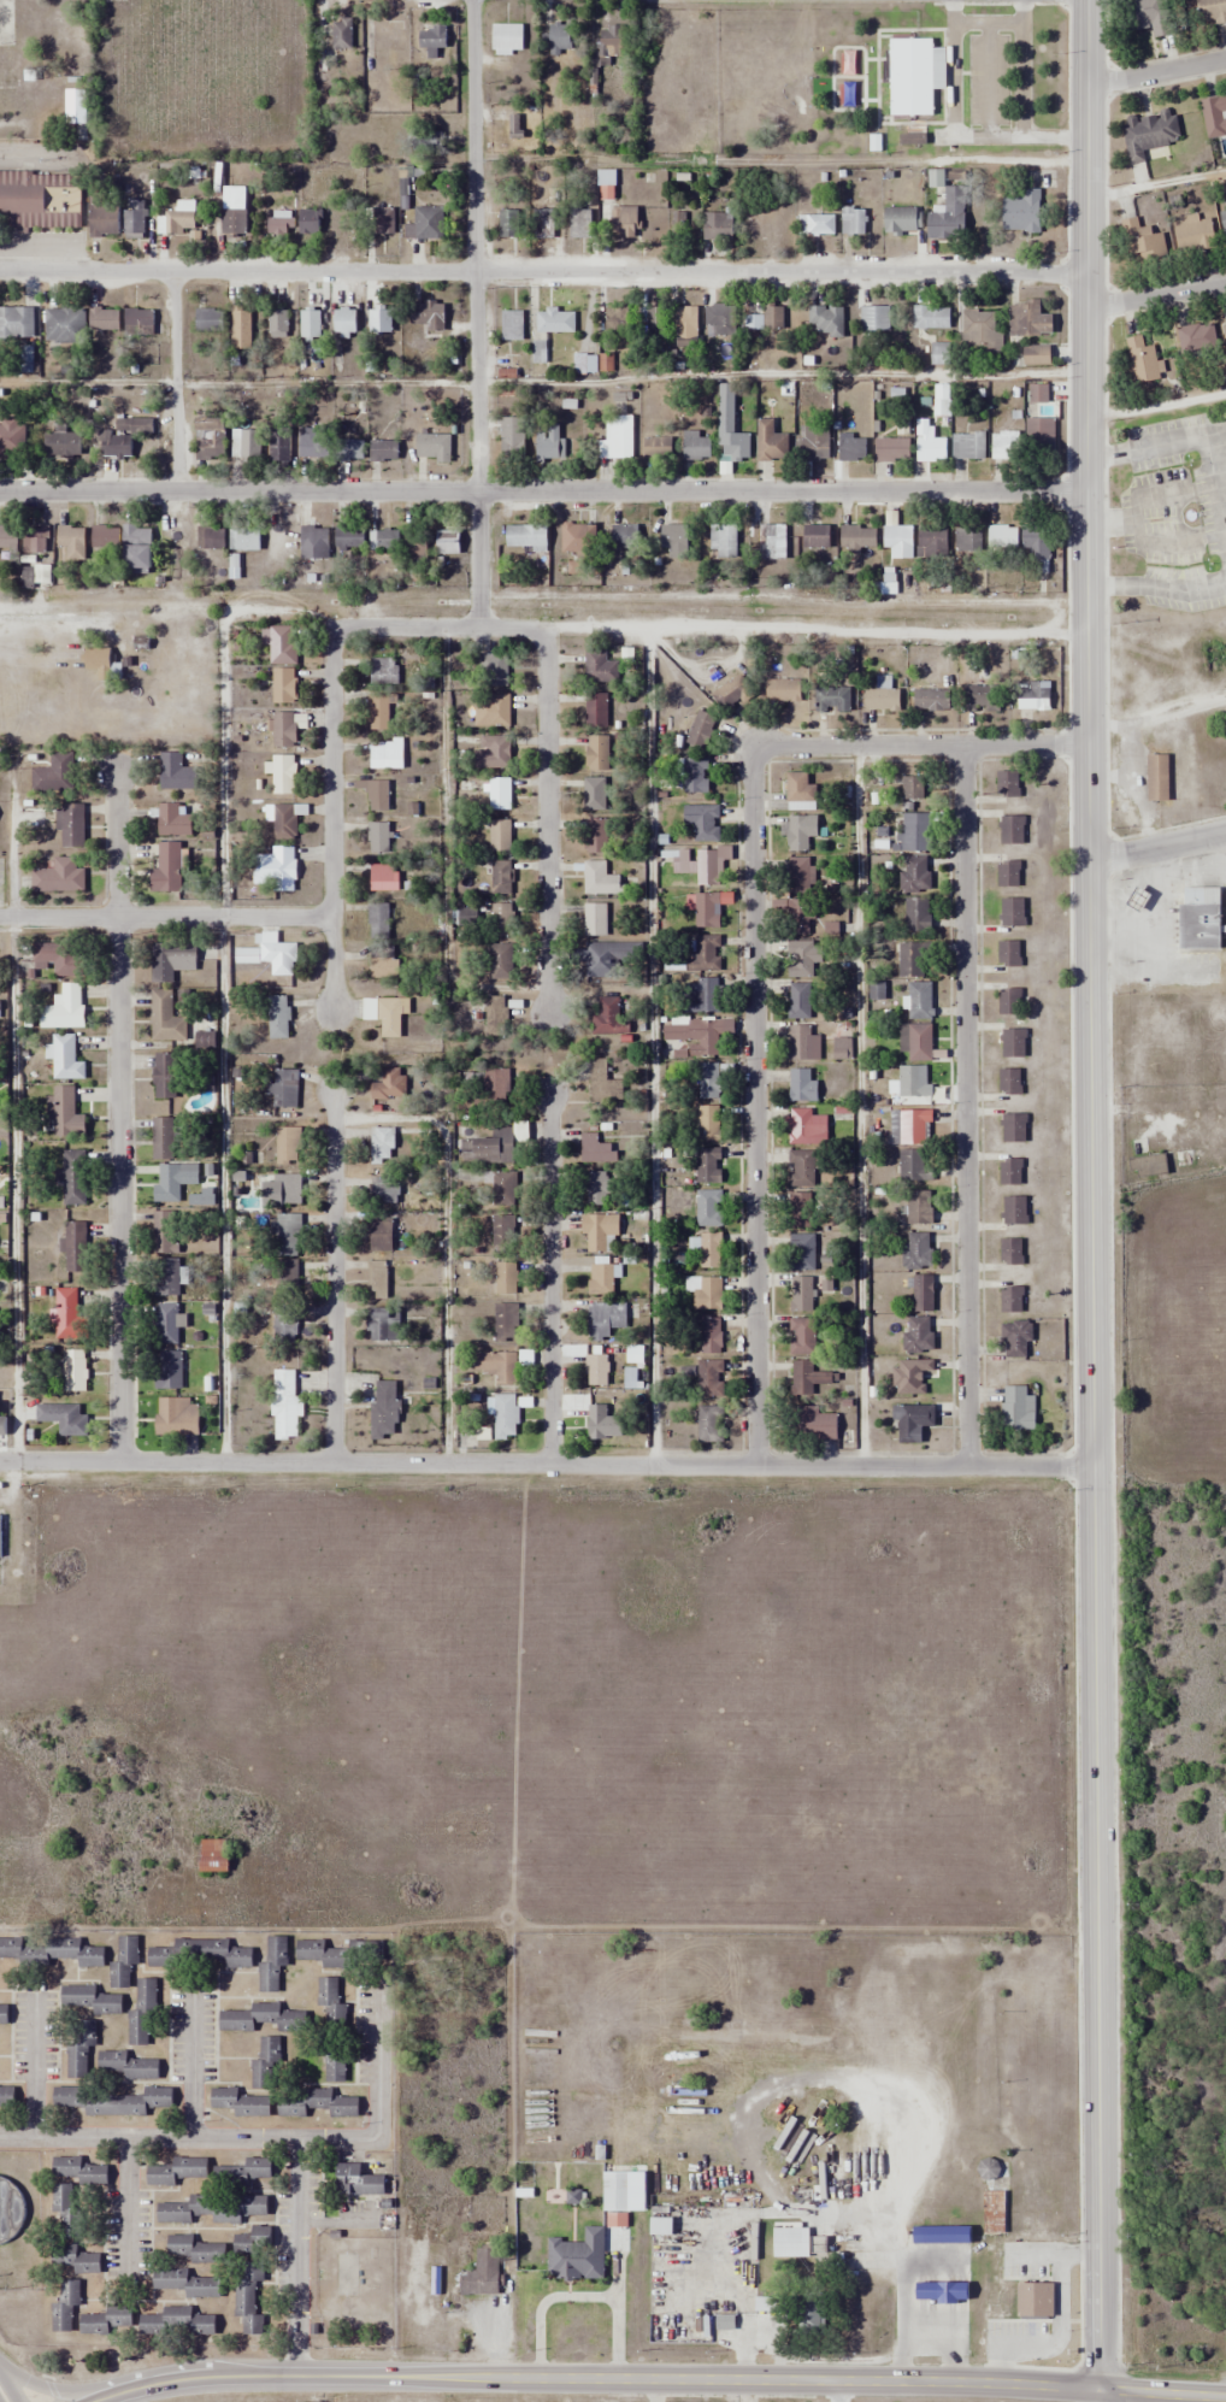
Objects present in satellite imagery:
building: (1210, 12)
building: (1150, 16)
building: (341, 34)
building: (432, 37)
building: (560, 39)
building: (506, 40)
building: (612, 42)
building: (7, 69)
road: (1156, 72)
building: (910, 77)
building: (1225, 95)
building: (1219, 124)
building: (515, 128)
building: (1149, 134)
building: (40, 199)
building: (232, 211)
building: (1021, 211)
building: (102, 217)
building: (948, 217)
building: (134, 219)
building: (177, 219)
building: (1222, 219)
building: (310, 220)
building: (851, 220)
building: (383, 222)
building: (624, 222)
building: (281, 223)
building: (425, 223)
building: (543, 223)
building: (579, 223)
building: (508, 224)
building: (753, 224)
building: (678, 225)
building: (817, 225)
building: (717, 226)
building: (1193, 234)
building: (1142, 242)
road: (542, 271)
road: (1155, 295)
road: (475, 313)
building: (428, 316)
building: (766, 318)
building: (931, 318)
building: (104, 319)
building: (208, 319)
building: (379, 319)
building: (873, 319)
building: (615, 320)
building: (719, 320)
building: (826, 320)
building: (1028, 320)
building: (344, 322)
building: (554, 322)
building: (16, 323)
building: (138, 323)
building: (277, 323)
building: (650, 324)
building: (64, 325)
building: (511, 325)
building: (685, 326)
building: (241, 328)
building: (310, 330)
building: (978, 332)
building: (1224, 332)
building: (1196, 338)
building: (538, 352)
building: (1036, 355)
building: (1143, 361)
building: (606, 363)
building: (584, 364)
road: (176, 382)
building: (1038, 394)
building: (730, 428)
building: (210, 438)
building: (617, 438)
road: (1179, 438)
building: (11, 440)
building: (512, 440)
building: (1039, 440)
building: (61, 443)
building: (311, 443)
building: (548, 443)
building: (813, 443)
building: (244, 445)
building: (114, 446)
building: (772, 446)
building: (967, 446)
building: (1004, 446)
building: (696, 447)
building: (278, 448)
building: (434, 448)
building: (350, 449)
building: (383, 451)
building: (656, 451)
building: (851, 451)
building: (892, 451)
building: (930, 451)
road: (541, 493)
road: (1165, 494)
road: (1155, 535)
building: (525, 536)
building: (625, 536)
building: (71, 537)
building: (105, 537)
building: (349, 537)
building: (815, 537)
building: (897, 537)
building: (1002, 537)
building: (8, 538)
building: (210, 538)
building: (578, 538)
building: (857, 538)
building: (35, 540)
building: (244, 540)
building: (384, 540)
building: (676, 540)
building: (967, 540)
building: (723, 541)
building: (448, 542)
building: (772, 542)
building: (314, 543)
building: (932, 543)
building: (414, 546)
building: (1037, 547)
building: (136, 549)
road: (1155, 588)
road: (436, 626)
building: (279, 643)
building: (99, 661)
building: (600, 667)
building: (493, 670)
building: (383, 671)
building: (283, 685)
building: (783, 689)
building: (732, 693)
building: (1032, 695)
building: (832, 697)
building: (882, 697)
building: (983, 697)
building: (931, 699)
building: (499, 710)
building: (595, 710)
building: (379, 712)
building: (283, 729)
building: (701, 729)
building: (493, 752)
building: (385, 753)
building: (596, 753)
building: (176, 773)
building: (281, 773)
building: (54, 775)
building: (695, 776)
building: (1157, 777)
building: (1007, 783)
building: (912, 788)
building: (800, 791)
building: (499, 793)
building: (375, 794)
building: (594, 795)
building: (172, 820)
road: (547, 820)
building: (283, 822)
building: (702, 822)
road: (330, 823)
building: (70, 825)
building: (1012, 830)
building: (915, 831)
building: (801, 834)
building: (596, 835)
building: (500, 836)
building: (377, 838)
road: (1156, 846)
building: (683, 855)
building: (707, 867)
building: (166, 869)
building: (275, 869)
building: (915, 873)
building: (1008, 873)
building: (800, 875)
building: (58, 876)
building: (383, 878)
building: (500, 878)
building: (599, 879)
building: (707, 911)
building: (1012, 912)
building: (916, 914)
road: (165, 916)
building: (800, 917)
building: (1198, 918)
building: (501, 919)
building: (594, 919)
building: (379, 922)
road: (755, 940)
building: (1009, 953)
building: (58, 958)
building: (279, 958)
building: (803, 958)
building: (605, 959)
building: (914, 959)
building: (171, 960)
building: (500, 962)
building: (383, 964)
road: (223, 981)
building: (702, 995)
building: (919, 1000)
building: (800, 1001)
building: (1009, 1001)
building: (64, 1008)
building: (390, 1015)
building: (495, 1015)
building: (609, 1015)
building: (277, 1017)
building: (165, 1018)
building: (695, 1035)
building: (204, 1041)
building: (915, 1041)
building: (1013, 1042)
building: (800, 1043)
building: (65, 1058)
building: (164, 1075)
building: (709, 1081)
building: (914, 1081)
building: (1009, 1082)
building: (603, 1084)
building: (802, 1085)
building: (284, 1088)
building: (493, 1088)
building: (388, 1091)
road: (967, 1105)
building: (64, 1113)
road: (117, 1114)
road: (12, 1119)
building: (708, 1123)
building: (912, 1125)
building: (806, 1128)
building: (1013, 1128)
building: (163, 1138)
building: (382, 1144)
building: (288, 1146)
building: (489, 1146)
building: (596, 1149)
building: (708, 1165)
building: (913, 1166)
building: (801, 1168)
building: (1009, 1171)
building: (72, 1177)
building: (172, 1181)
building: (501, 1187)
building: (599, 1188)
building: (288, 1189)
building: (384, 1190)
road: (1090, 1194)
building: (919, 1207)
building: (708, 1208)
building: (800, 1209)
building: (1014, 1211)
building: (597, 1231)
building: (164, 1232)
building: (379, 1234)
building: (502, 1234)
building: (284, 1235)
building: (71, 1248)
building: (711, 1250)
building: (801, 1252)
building: (916, 1252)
building: (1010, 1252)
building: (165, 1277)
building: (285, 1277)
road: (332, 1277)
building: (506, 1278)
road: (550, 1279)
building: (600, 1279)
building: (377, 1281)
building: (705, 1291)
building: (923, 1293)
building: (801, 1295)
building: (1012, 1300)
building: (66, 1313)
building: (603, 1320)
building: (506, 1323)
building: (165, 1324)
building: (383, 1324)
building: (284, 1325)
building: (919, 1334)
building: (711, 1336)
building: (801, 1336)
building: (1015, 1338)
building: (497, 1366)
building: (167, 1370)
building: (596, 1370)
building: (73, 1371)
building: (910, 1376)
building: (709, 1378)
building: (811, 1379)
building: (284, 1405)
building: (1018, 1408)
building: (384, 1412)
building: (176, 1415)
building: (505, 1417)
building: (63, 1418)
building: (912, 1421)
building: (602, 1424)
building: (709, 1424)
building: (814, 1424)
road: (546, 1464)
building: (0, 1536)
building: (213, 1855)
building: (49, 1951)
building: (336, 1951)
building: (201, 1953)
building: (123, 1961)
building: (272, 1964)
building: (90, 1998)
building: (331, 2004)
building: (141, 2012)
building: (4, 2015)
building: (261, 2018)
building: (78, 2047)
building: (264, 2062)
road: (37, 2065)
building: (128, 2065)
building: (335, 2066)
road: (193, 2071)
building: (6, 2100)
building: (114, 2101)
building: (240, 2102)
building: (314, 2103)
road: (265, 2139)
building: (988, 2170)
building: (79, 2171)
building: (176, 2171)
building: (241, 2173)
building: (356, 2182)
road: (129, 2202)
building: (65, 2208)
building: (212, 2209)
building: (994, 2213)
road: (795, 2214)
building: (661, 2227)
building: (939, 2235)
building: (250, 2242)
building: (791, 2244)
building: (194, 2250)
building: (577, 2256)
road: (296, 2257)
building: (73, 2260)
building: (481, 2273)
building: (347, 2276)
building: (185, 2283)
building: (1022, 2283)
building: (941, 2292)
building: (247, 2297)
road: (582, 2297)
building: (767, 2304)
building: (64, 2306)
building: (106, 2319)
building: (811, 2319)
building: (176, 2322)
road: (948, 2347)
road: (595, 2378)
road: (58, 2385)
road: (1162, 2394)
road: (4, 2395)

